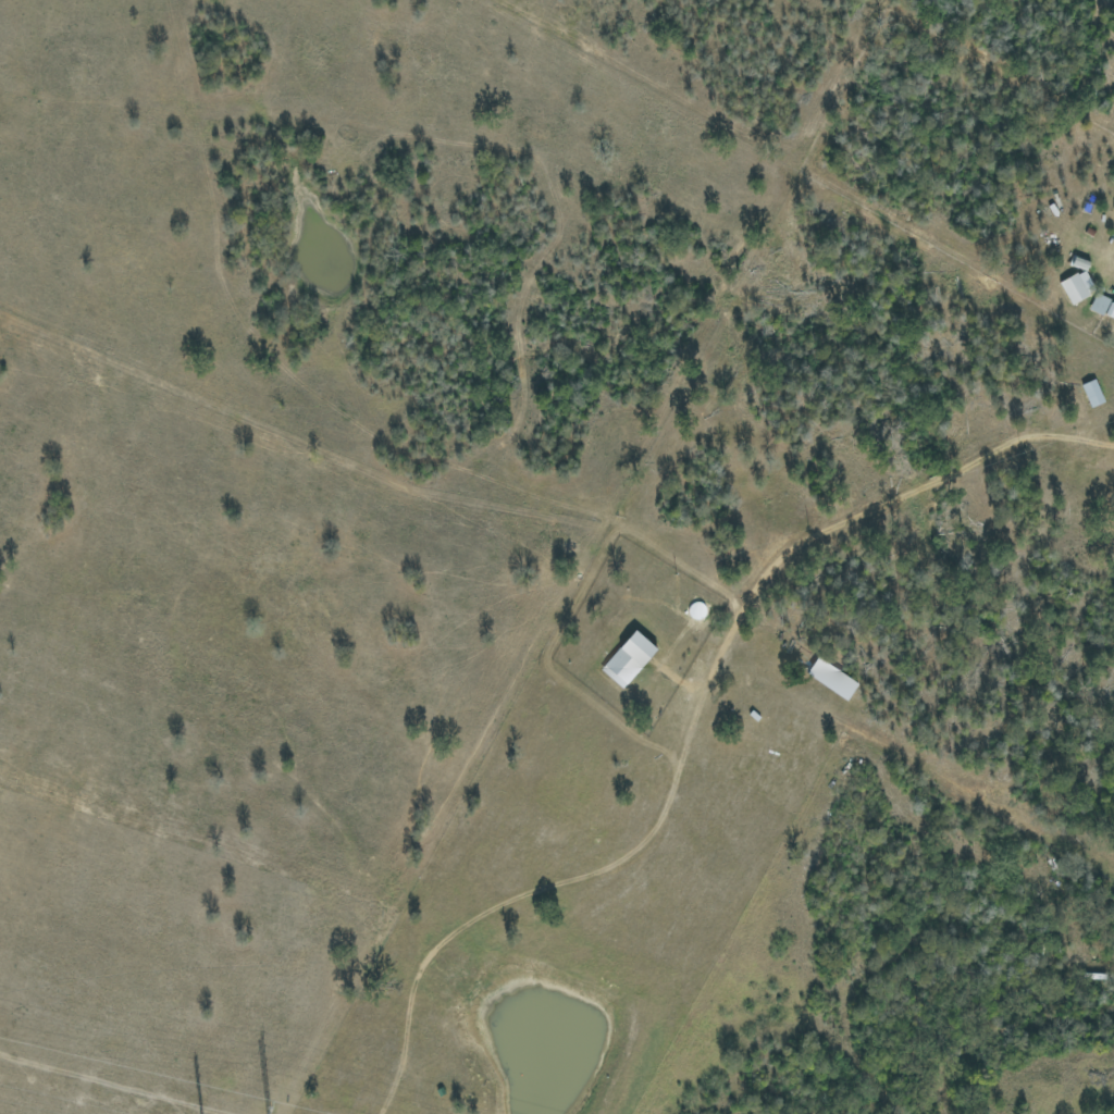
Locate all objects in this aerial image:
building: (1077, 286)
building: (1103, 306)
building: (1093, 393)
road: (285, 484)
building: (629, 659)
road: (701, 721)

